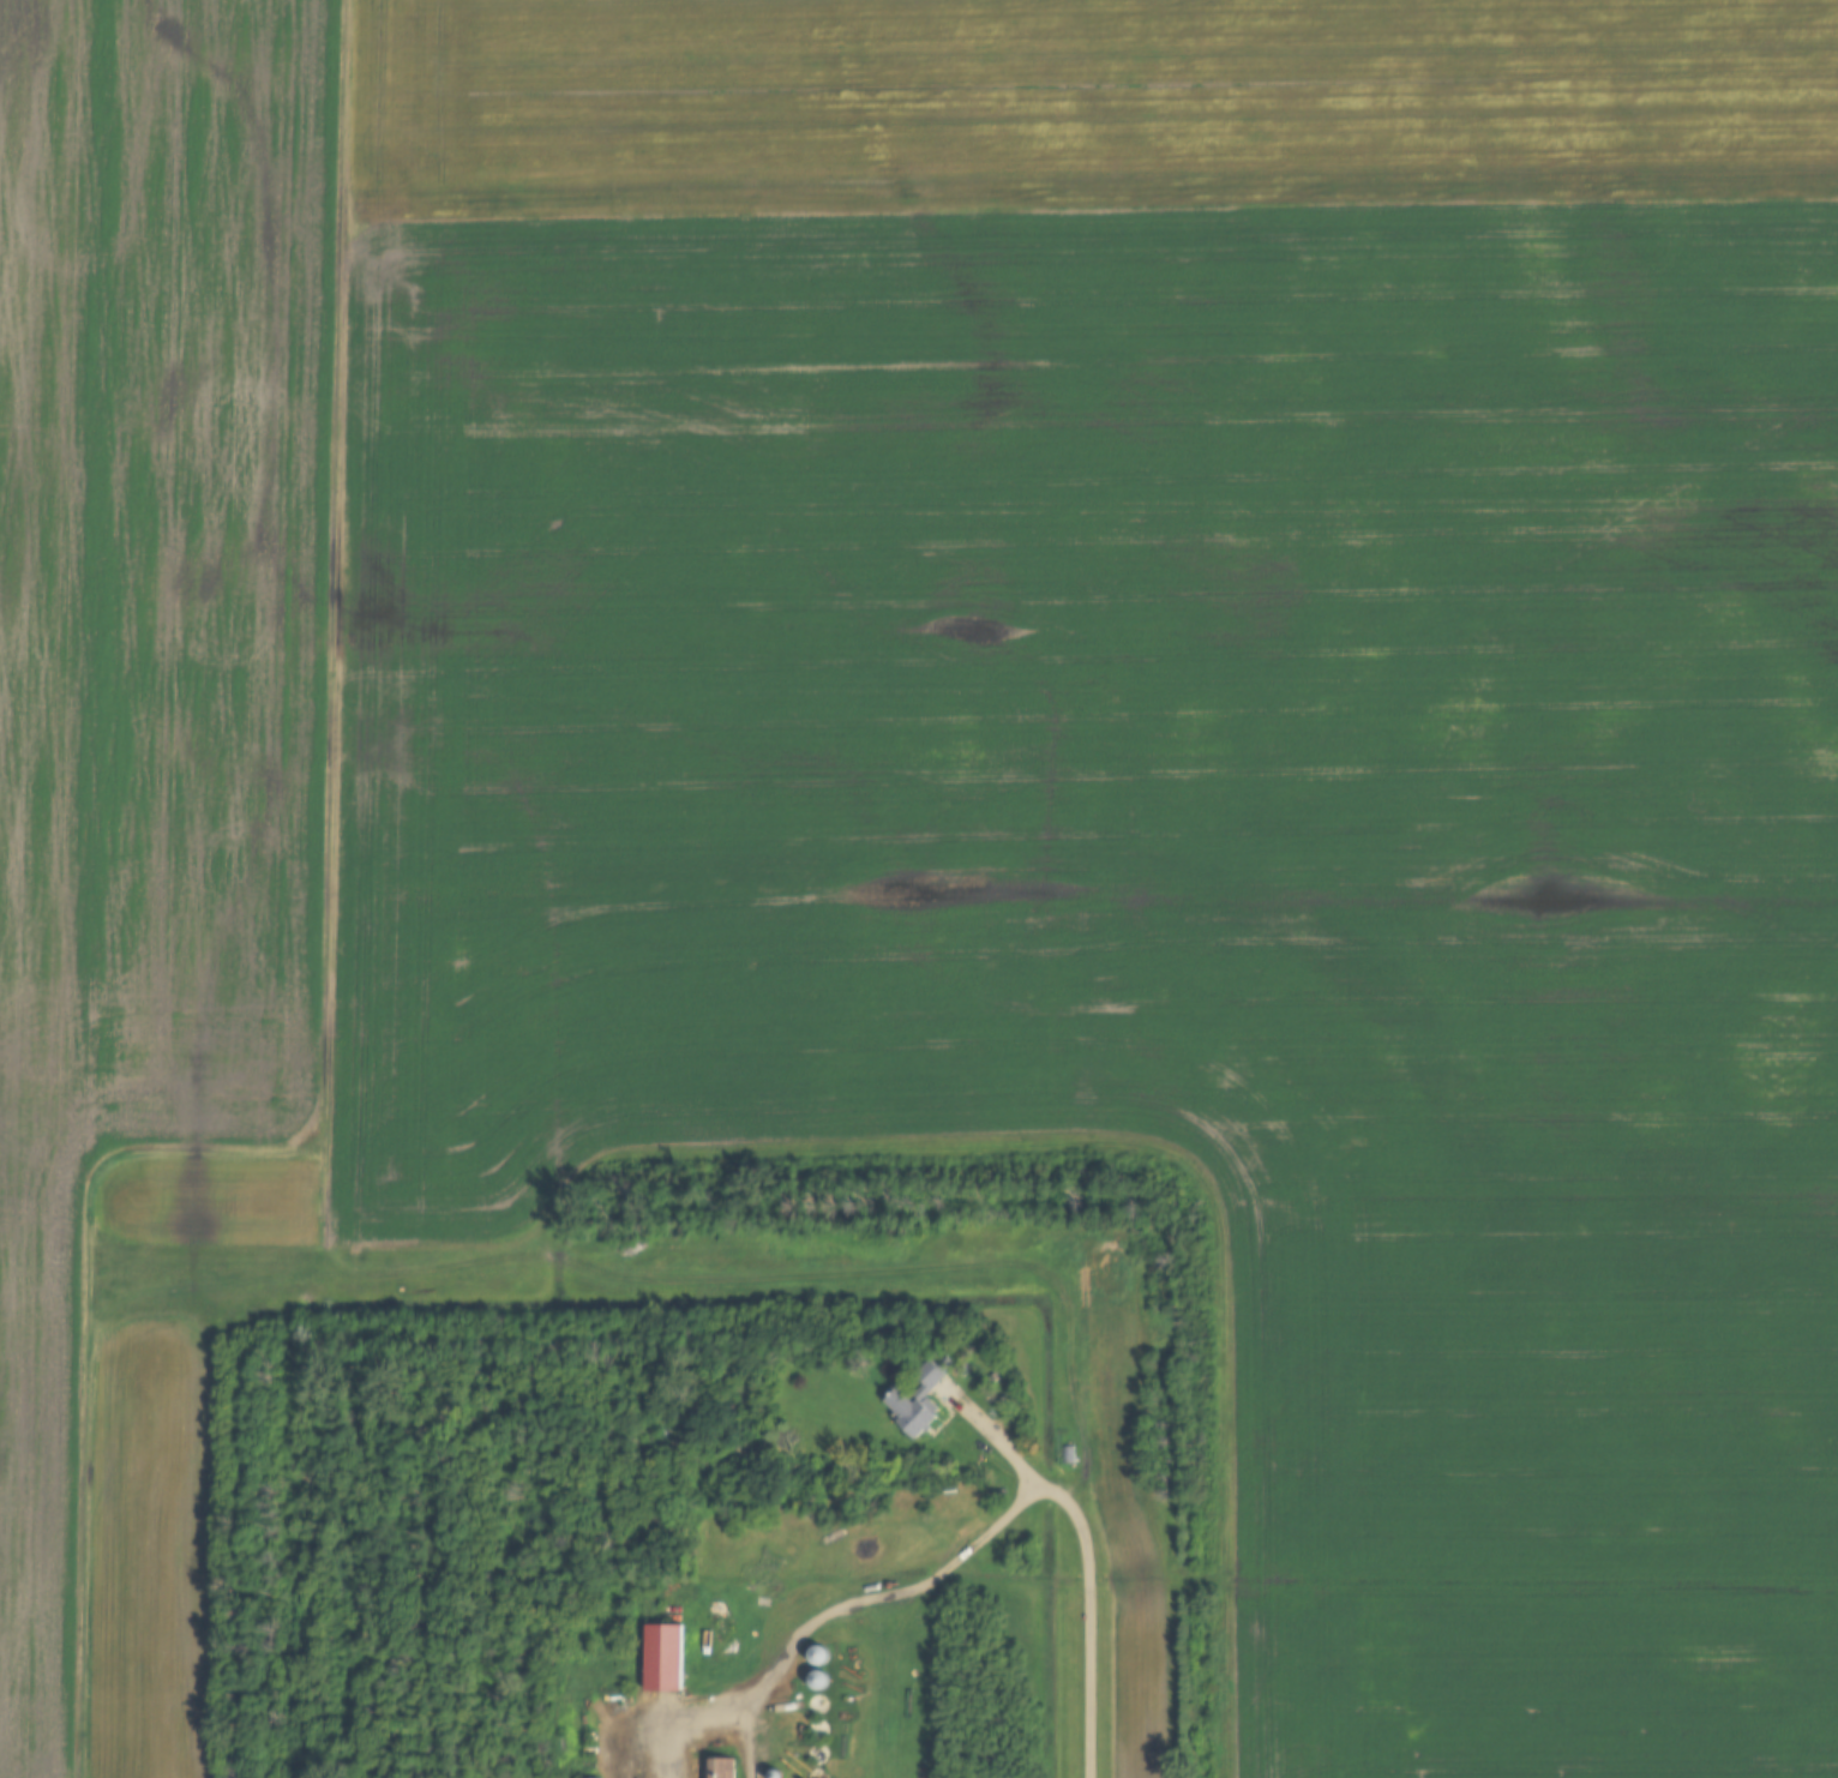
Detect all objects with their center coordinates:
crop: (1046, 727)
crop: (41, 845)
building: (912, 1404)
road: (991, 1440)
building: (1068, 1456)
crop: (1122, 1506)
road: (989, 1537)
crop: (149, 1550)
building: (818, 1658)
silo: (818, 1658)
building: (663, 1660)
building: (818, 1682)
silo: (818, 1682)
building: (818, 1707)
silo: (818, 1707)
road: (681, 1714)
building: (818, 1732)
silo: (818, 1732)
building: (818, 1758)
silo: (818, 1758)
building: (716, 1770)
building: (818, 1774)
silo: (818, 1774)
building: (769, 1776)
silo: (769, 1776)

